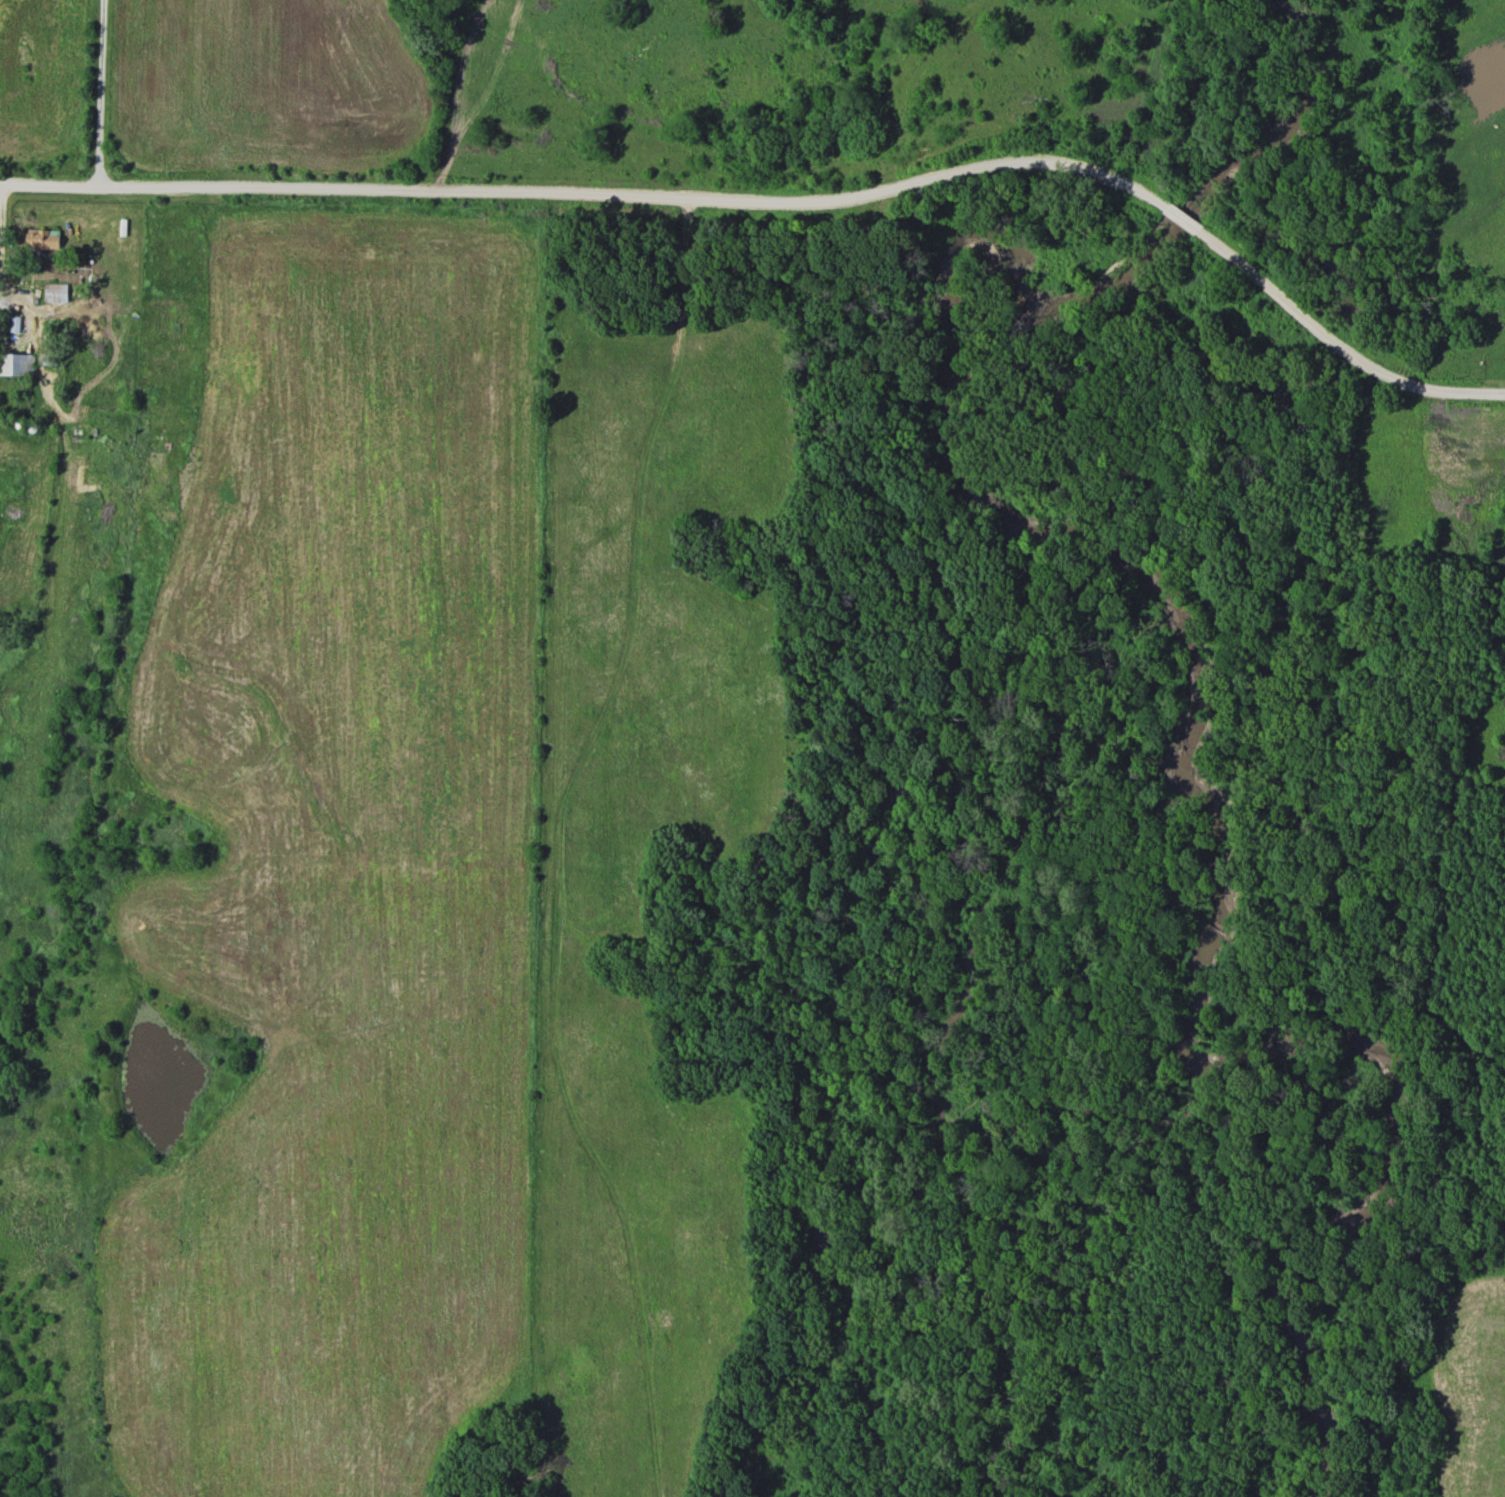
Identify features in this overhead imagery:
road: (104, 94)
road: (793, 207)
building: (42, 242)
road: (7, 266)
building: (53, 294)
building: (18, 367)

